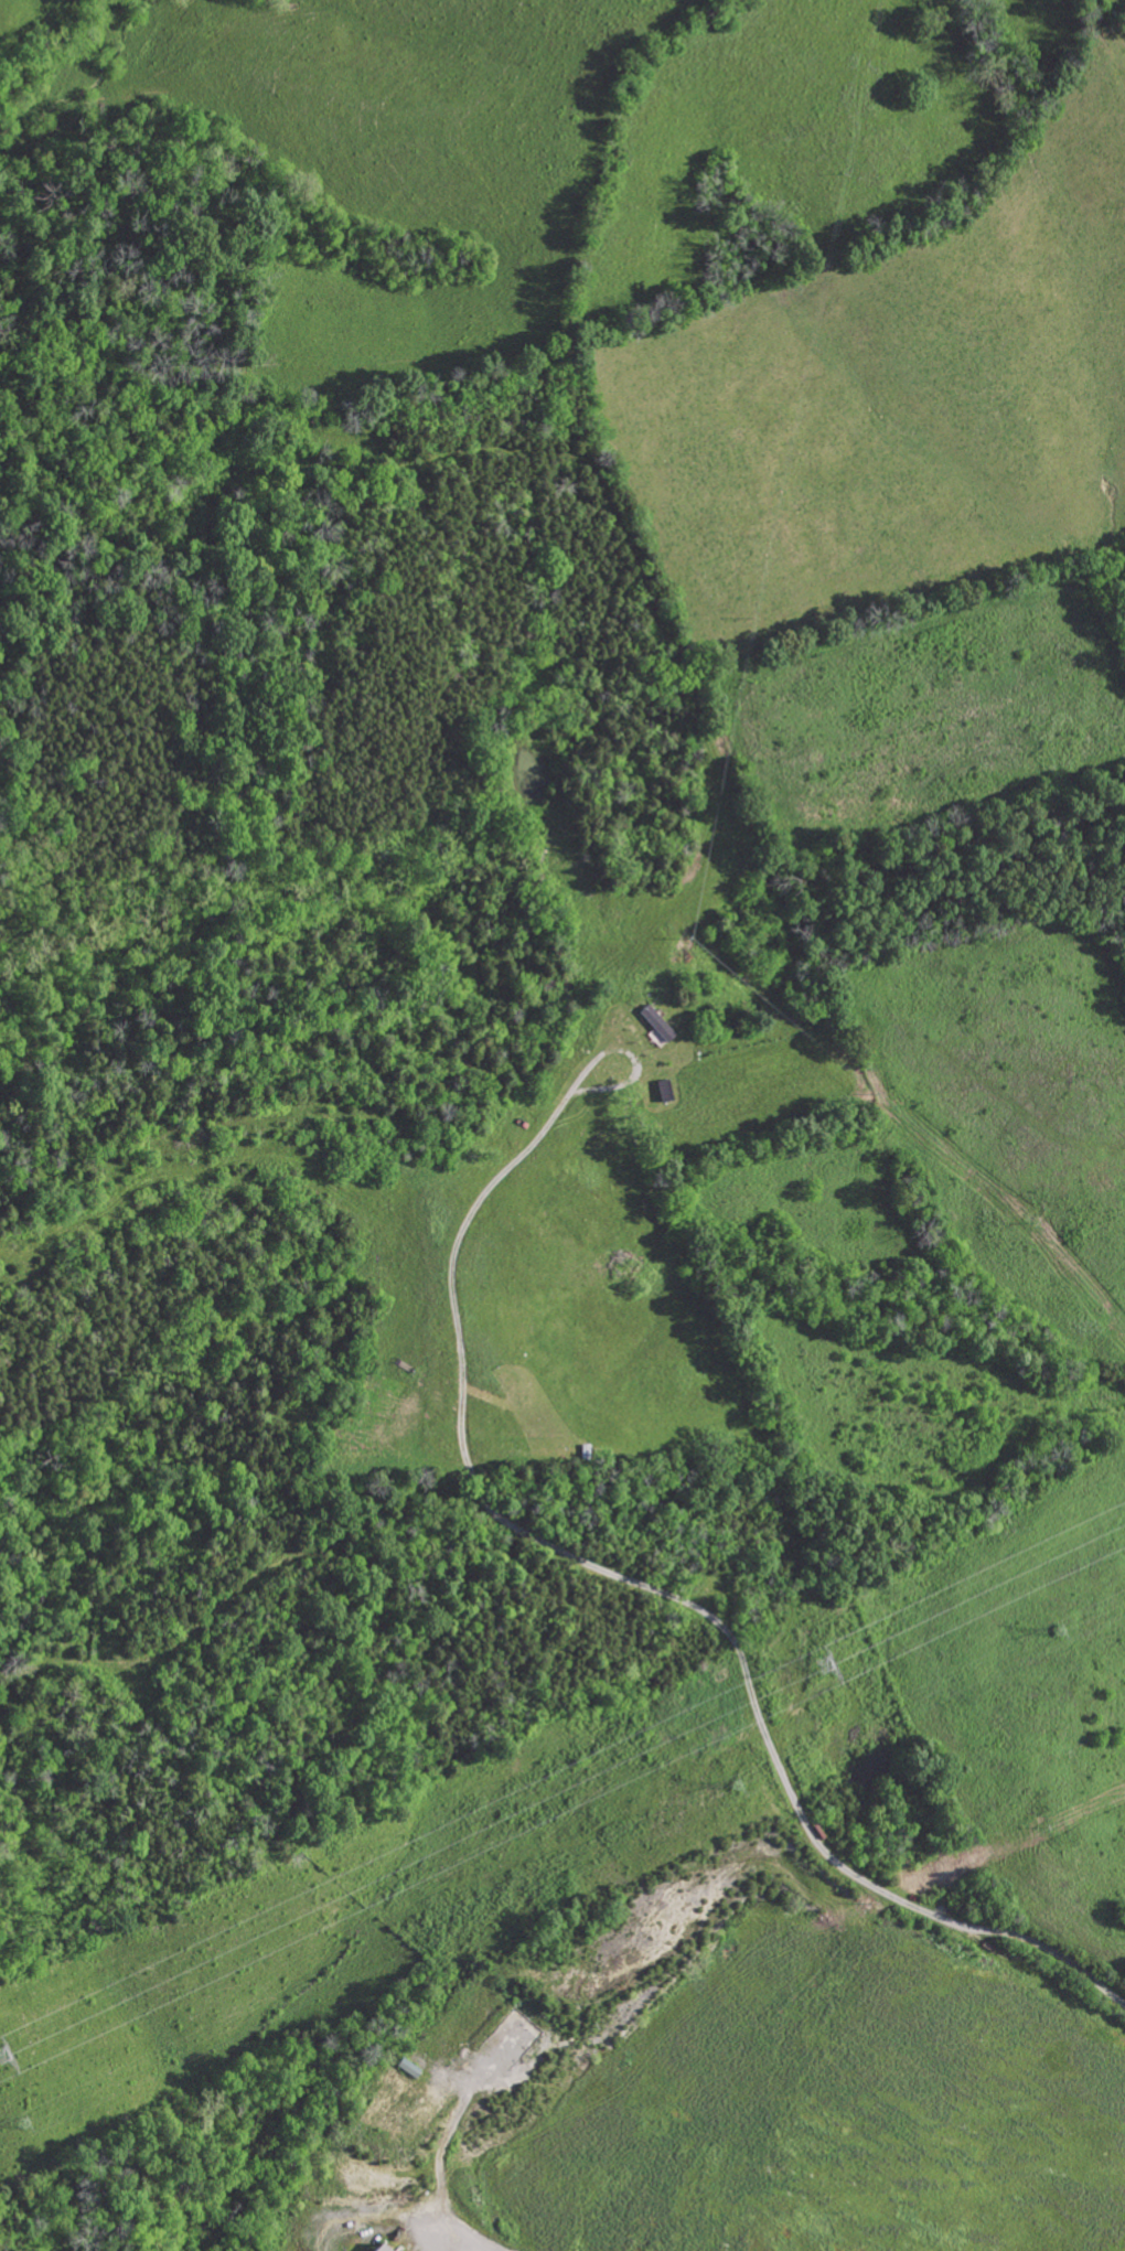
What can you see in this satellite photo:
road: (667, 1568)
power tower: (828, 1660)
power tower: (15, 2049)
building: (374, 2249)

